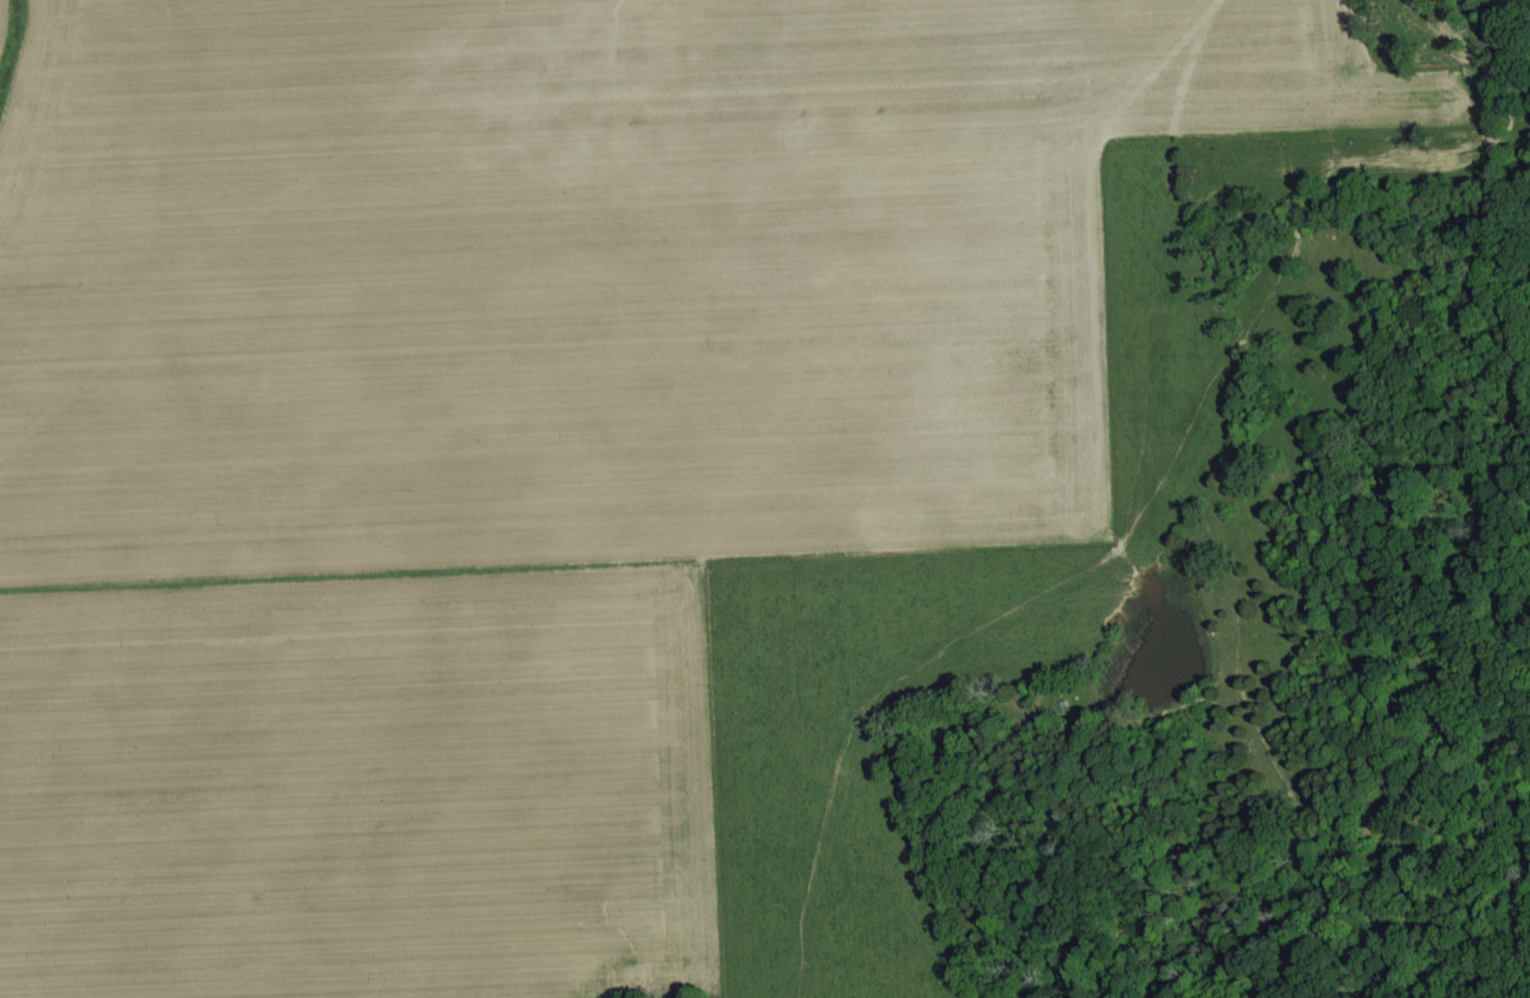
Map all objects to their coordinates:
crop: (592, 457)

